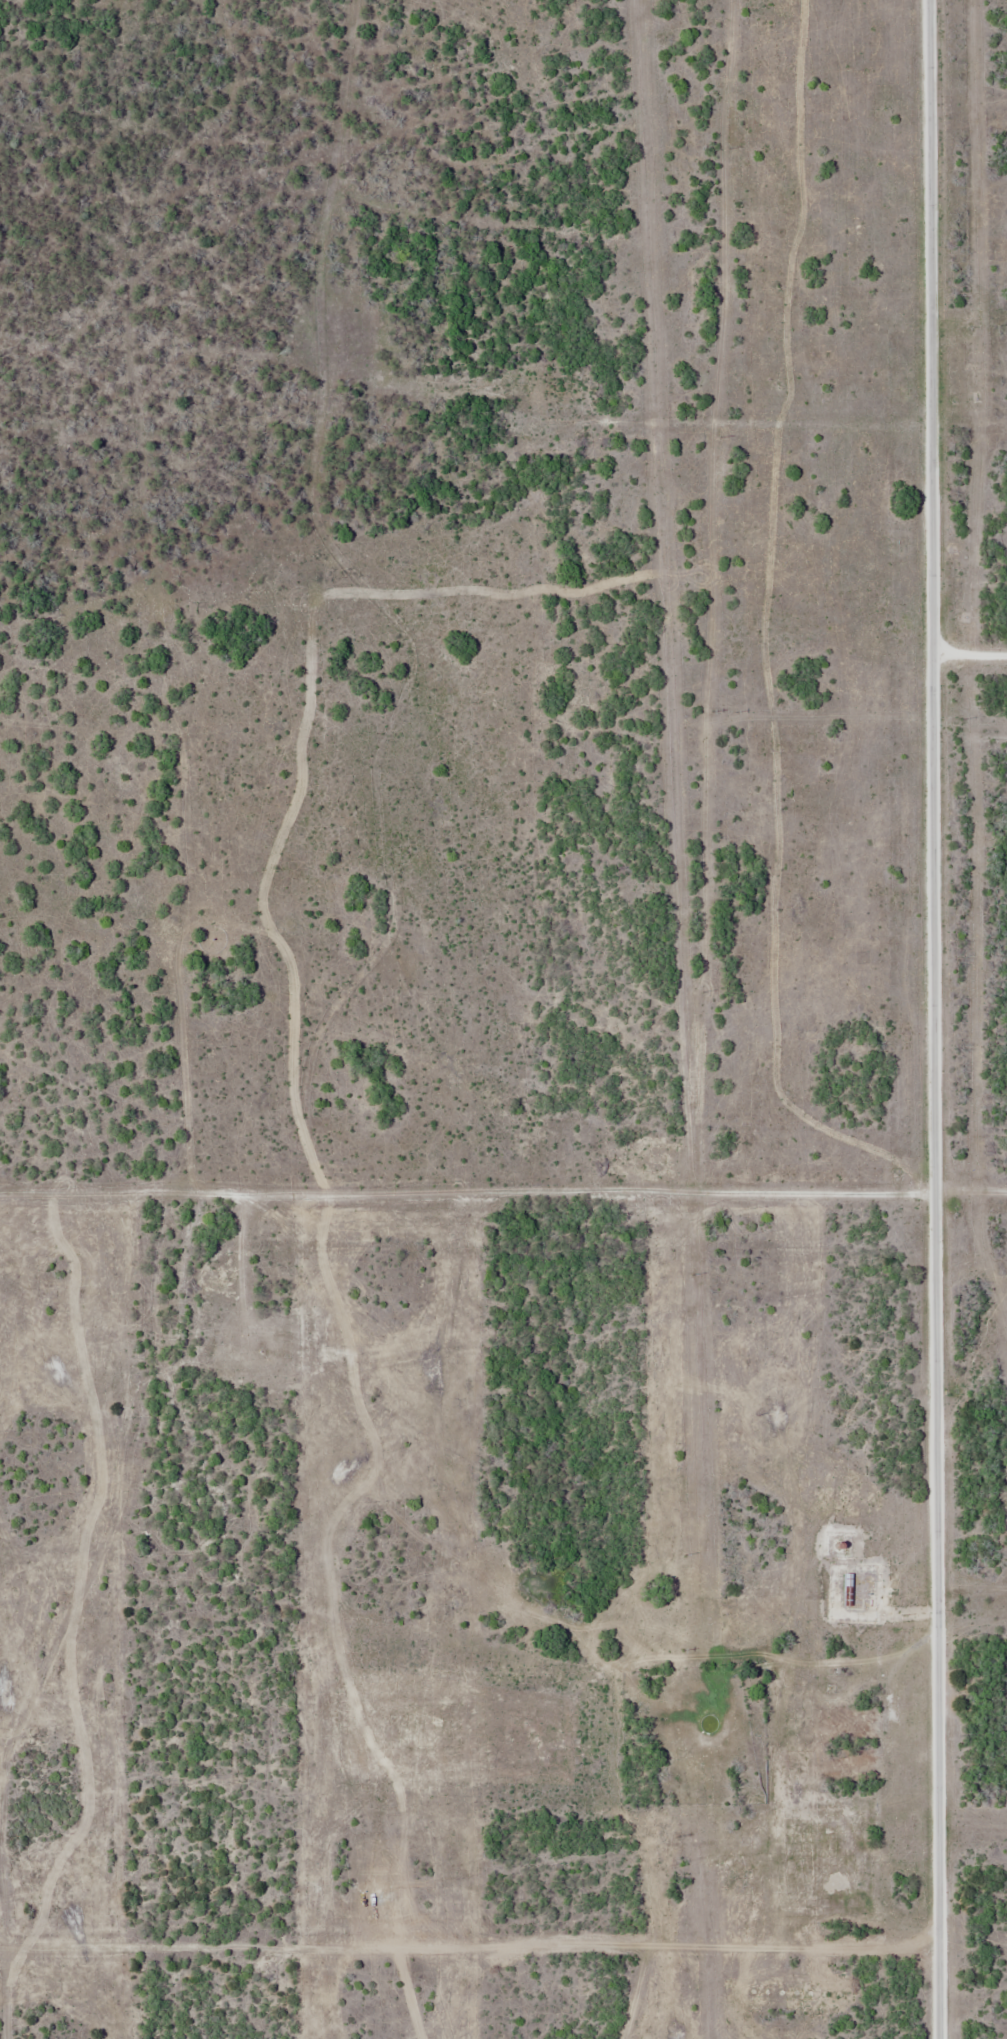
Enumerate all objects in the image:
road: (981, 656)
road: (950, 1019)

